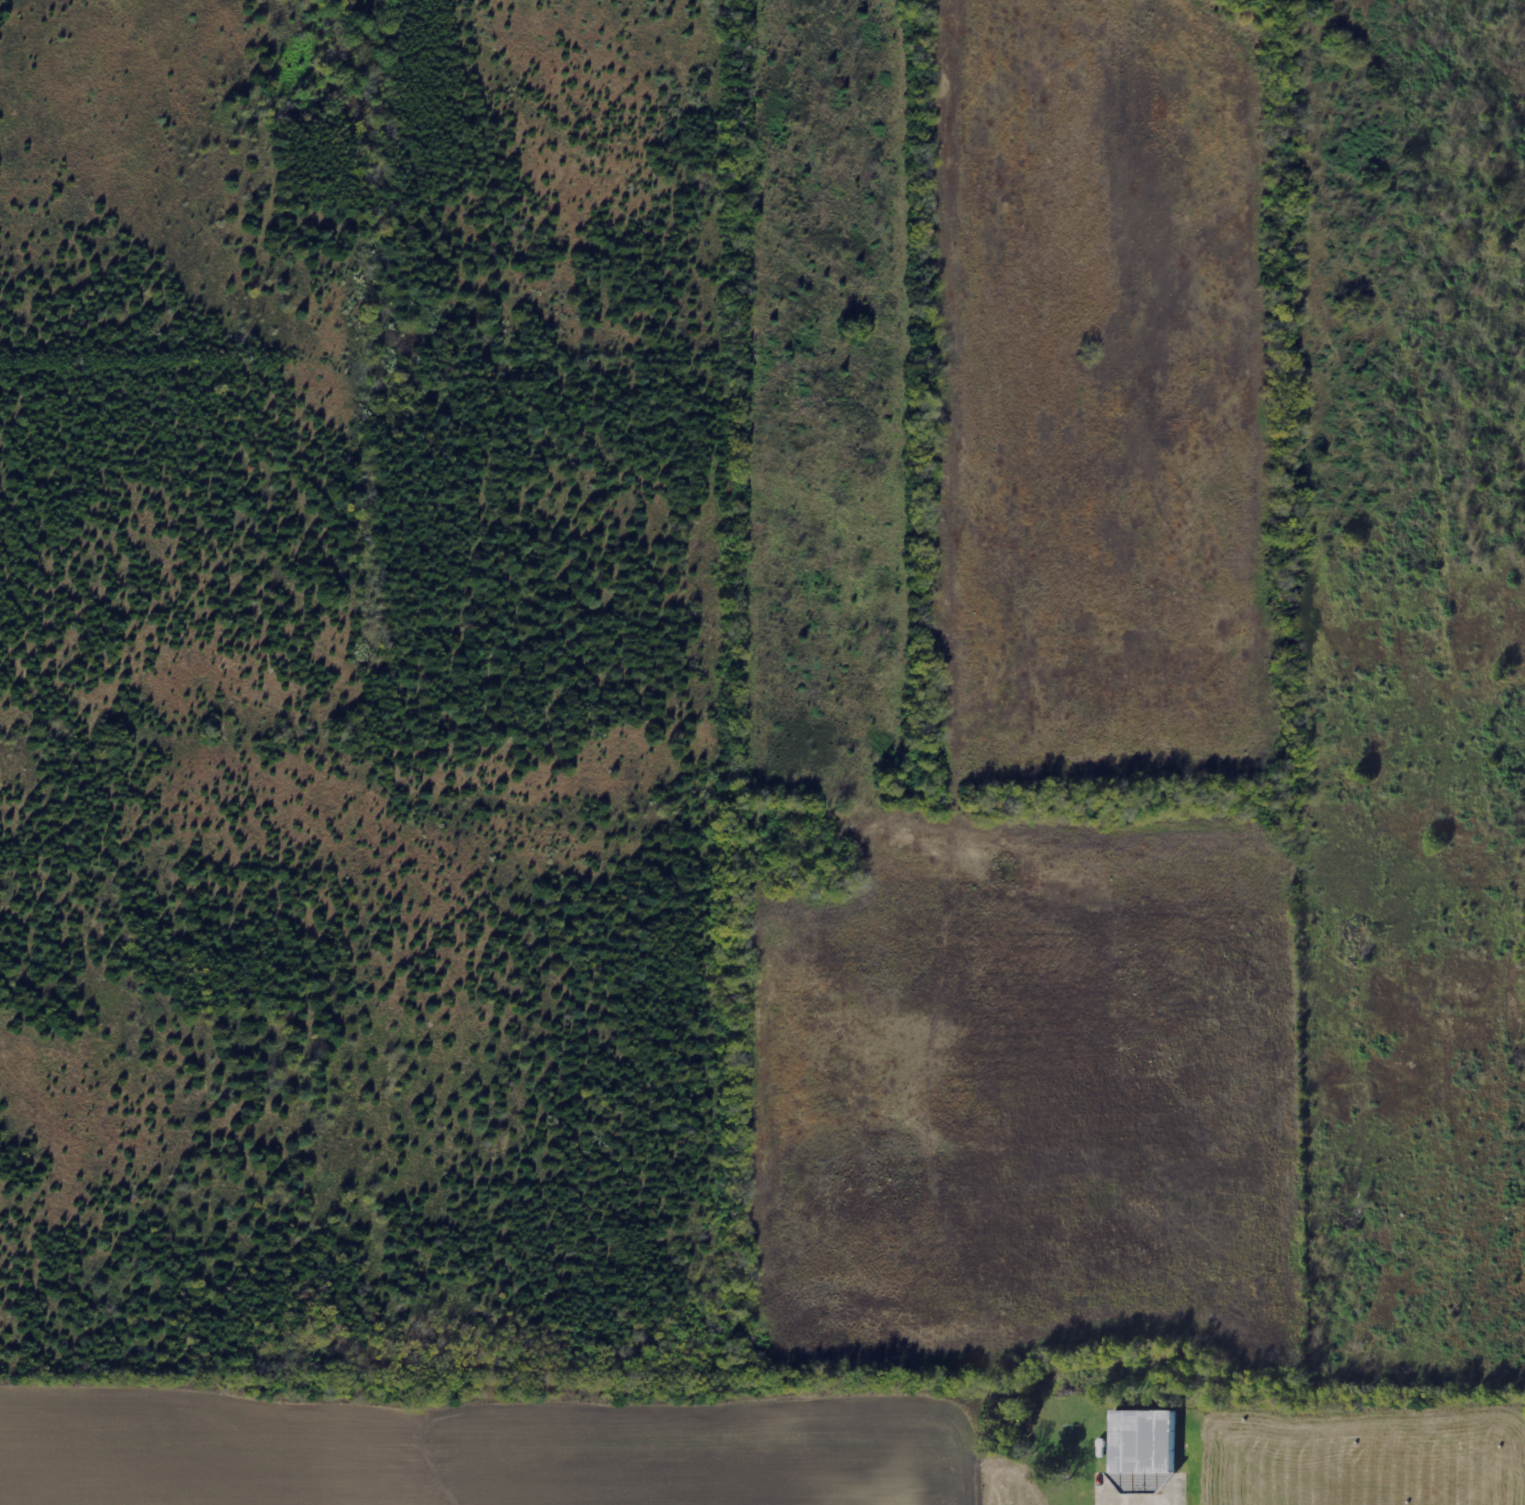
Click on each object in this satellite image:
building: (1147, 1449)

